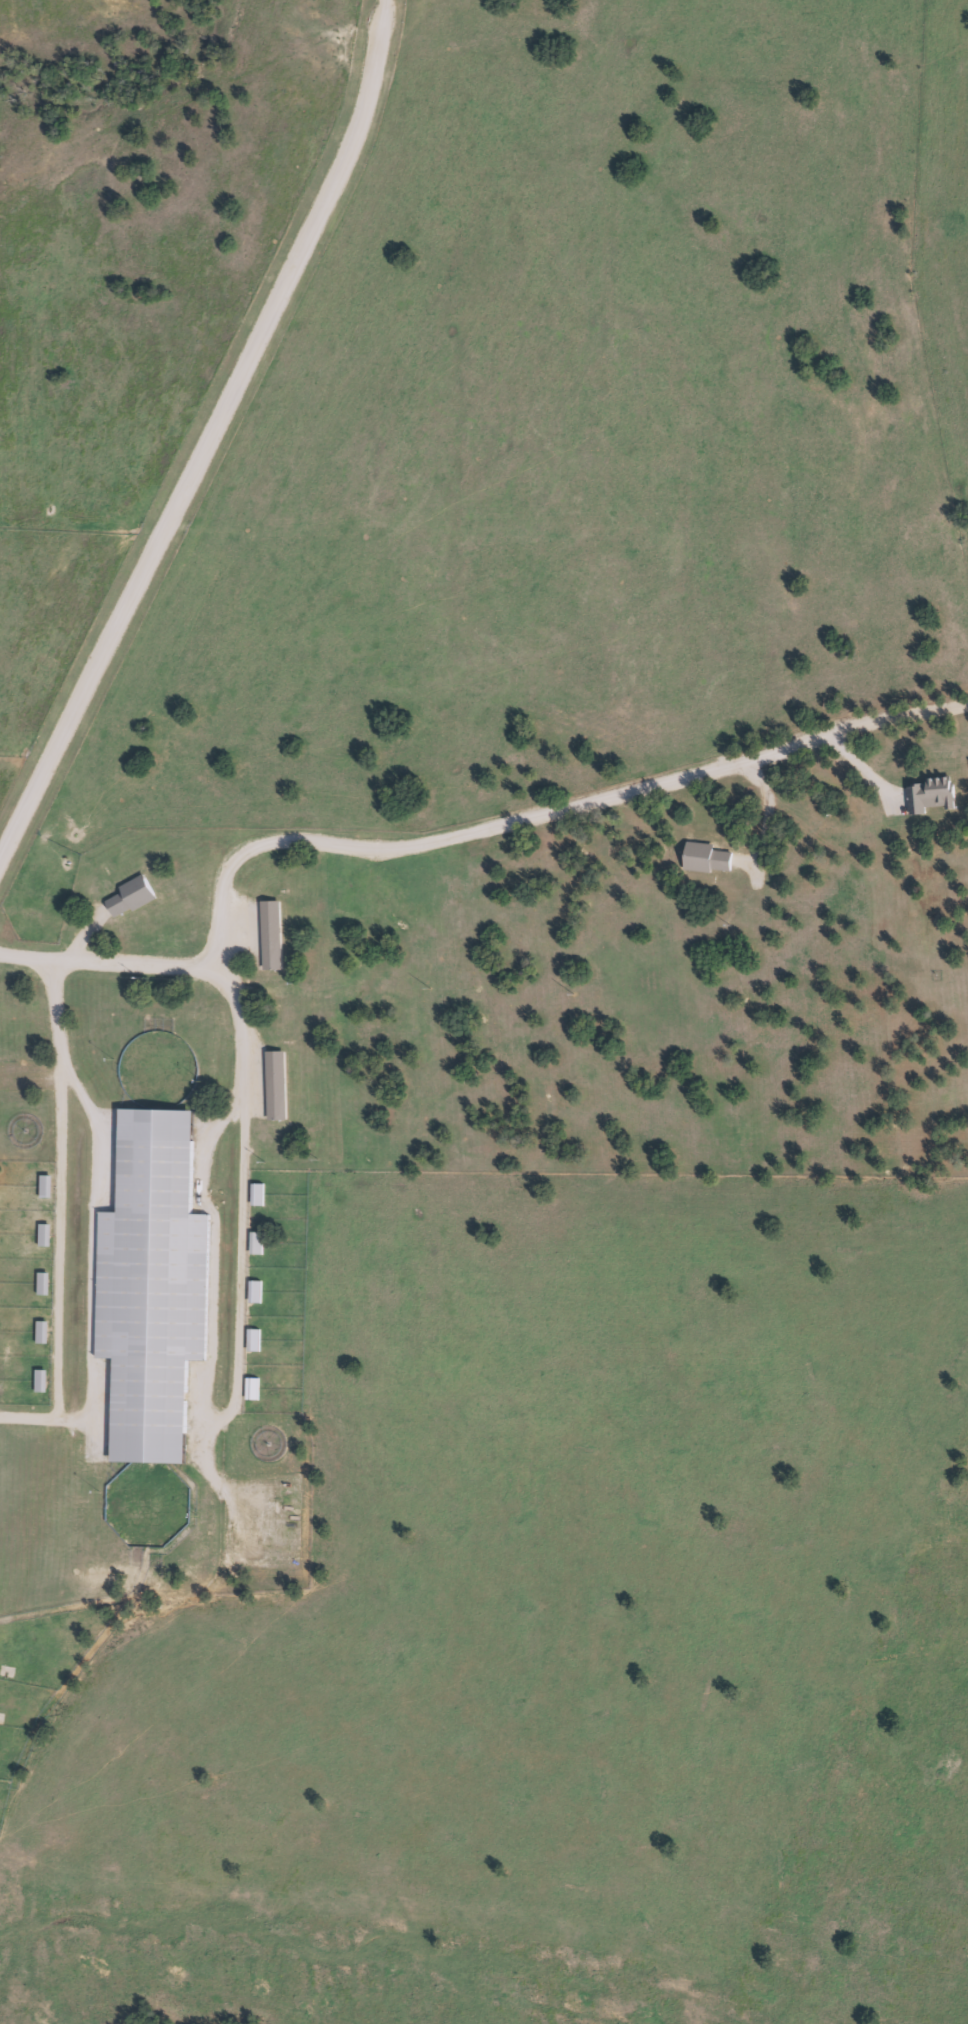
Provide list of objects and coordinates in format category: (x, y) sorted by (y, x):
road: (211, 430)
building: (929, 793)
building: (706, 857)
building: (130, 895)
building: (270, 934)
building: (274, 1084)
building: (43, 1234)
building: (255, 1241)
building: (41, 1282)
building: (151, 1285)
building: (40, 1331)

